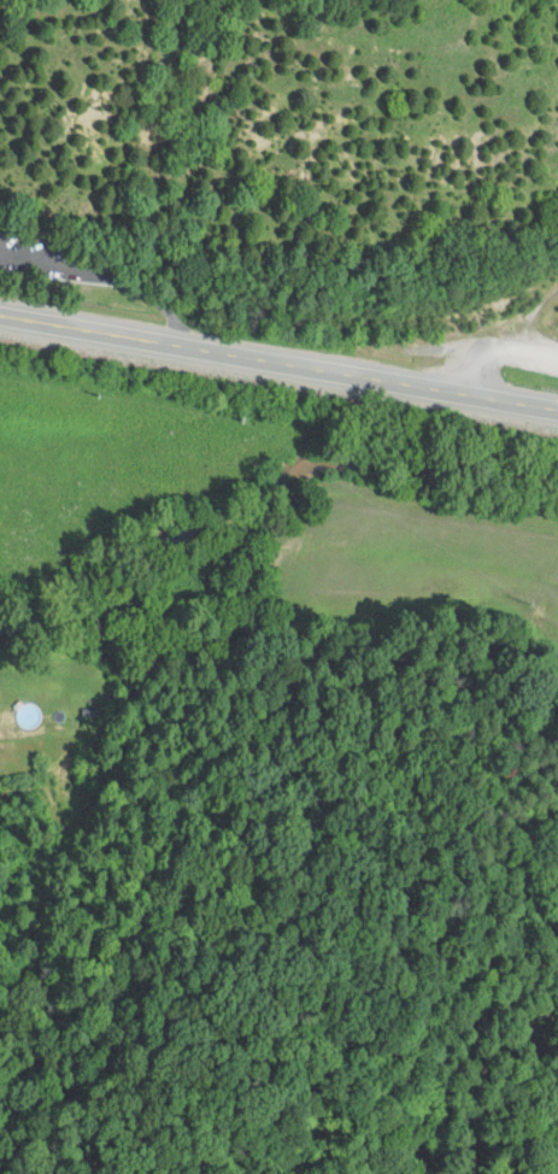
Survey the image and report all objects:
road: (278, 360)

